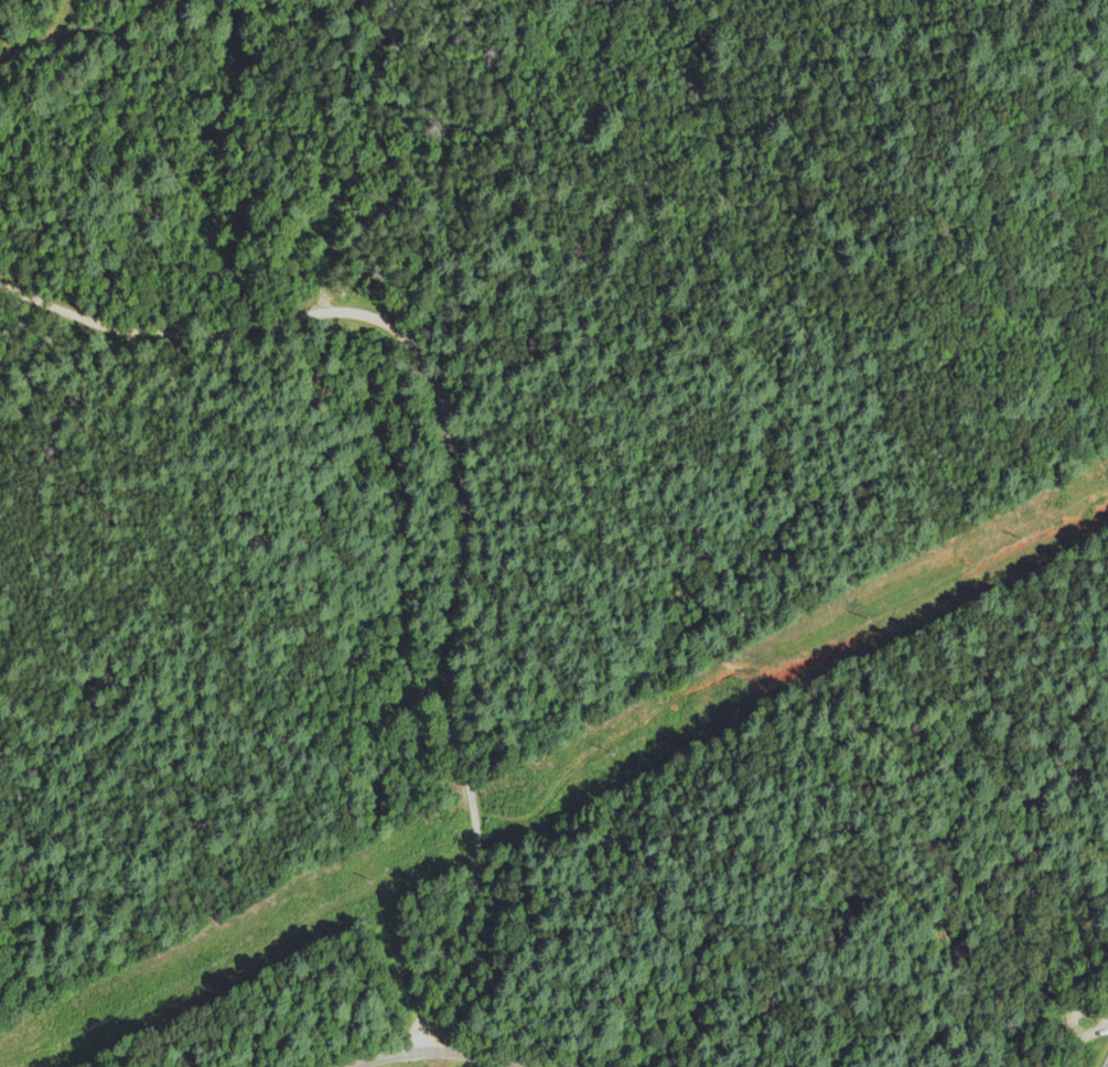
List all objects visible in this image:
road: (465, 487)
road: (1068, 1021)
road: (1106, 1028)
road: (434, 1052)

